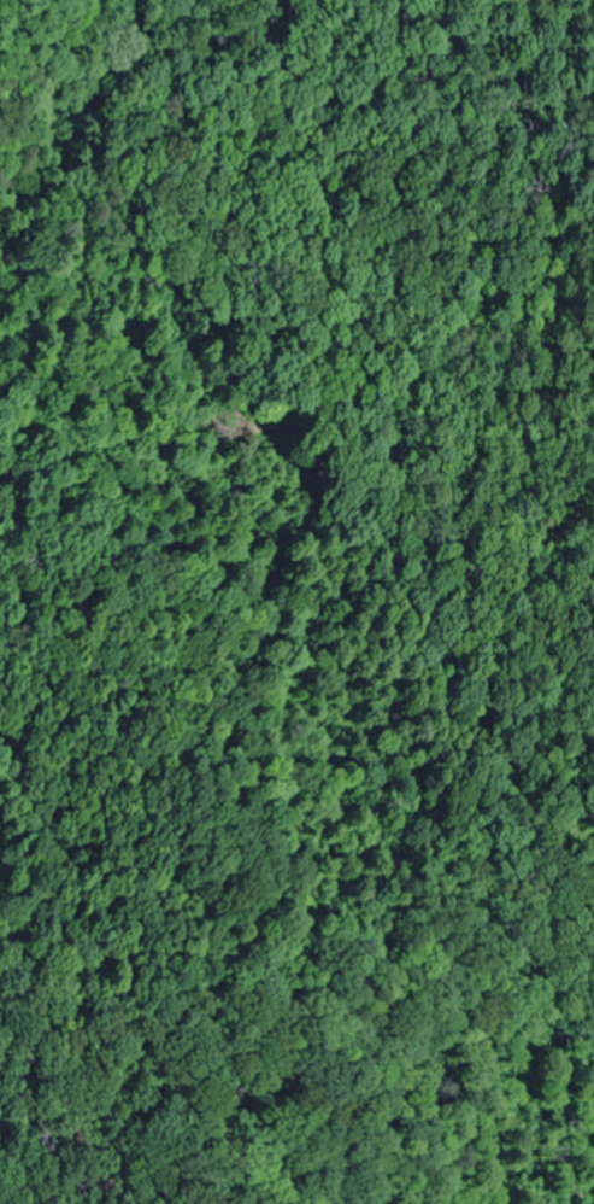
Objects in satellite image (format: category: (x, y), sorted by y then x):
road: (296, 995)

